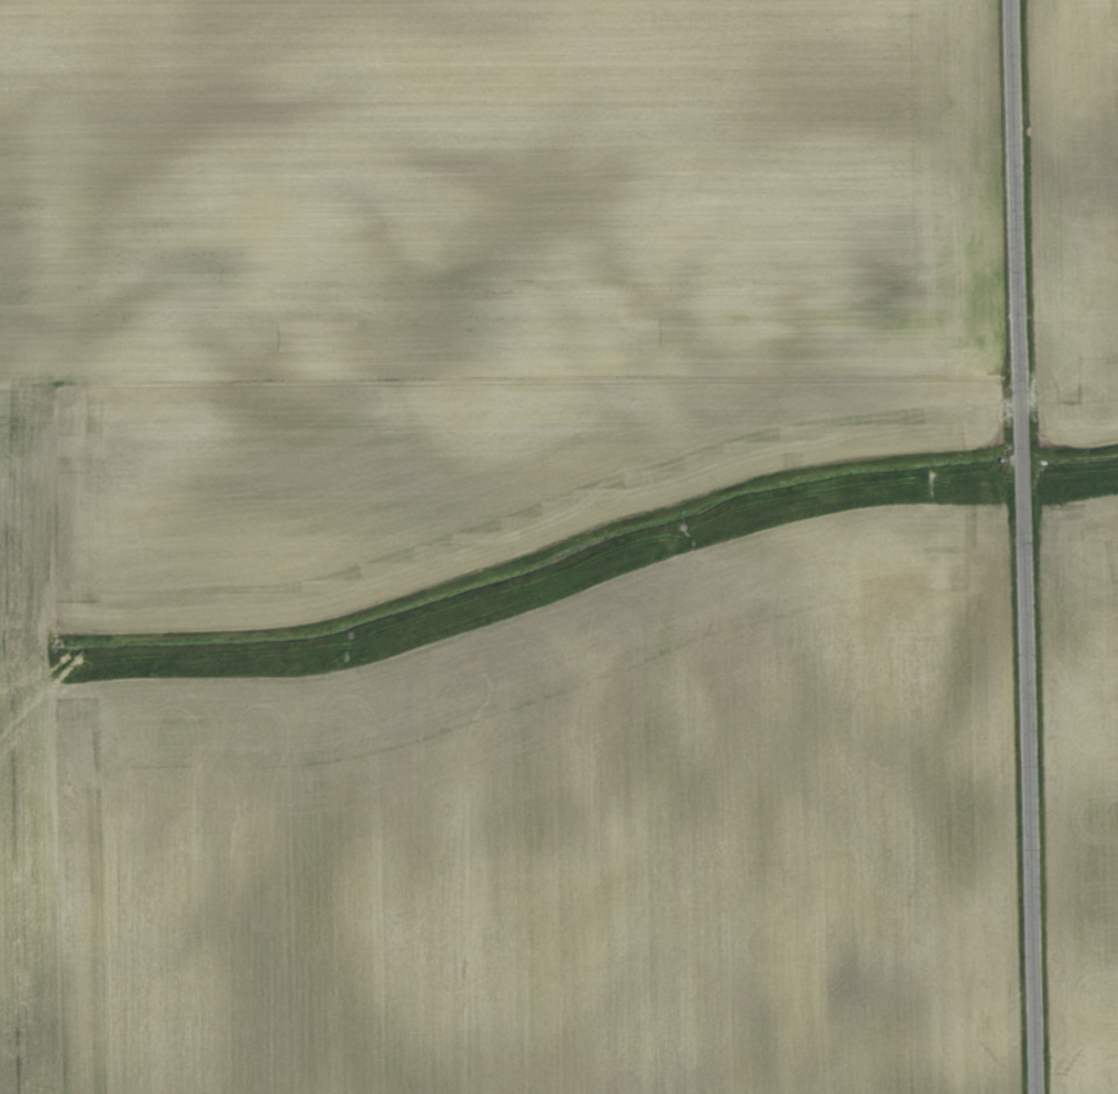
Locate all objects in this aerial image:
road: (1023, 546)

